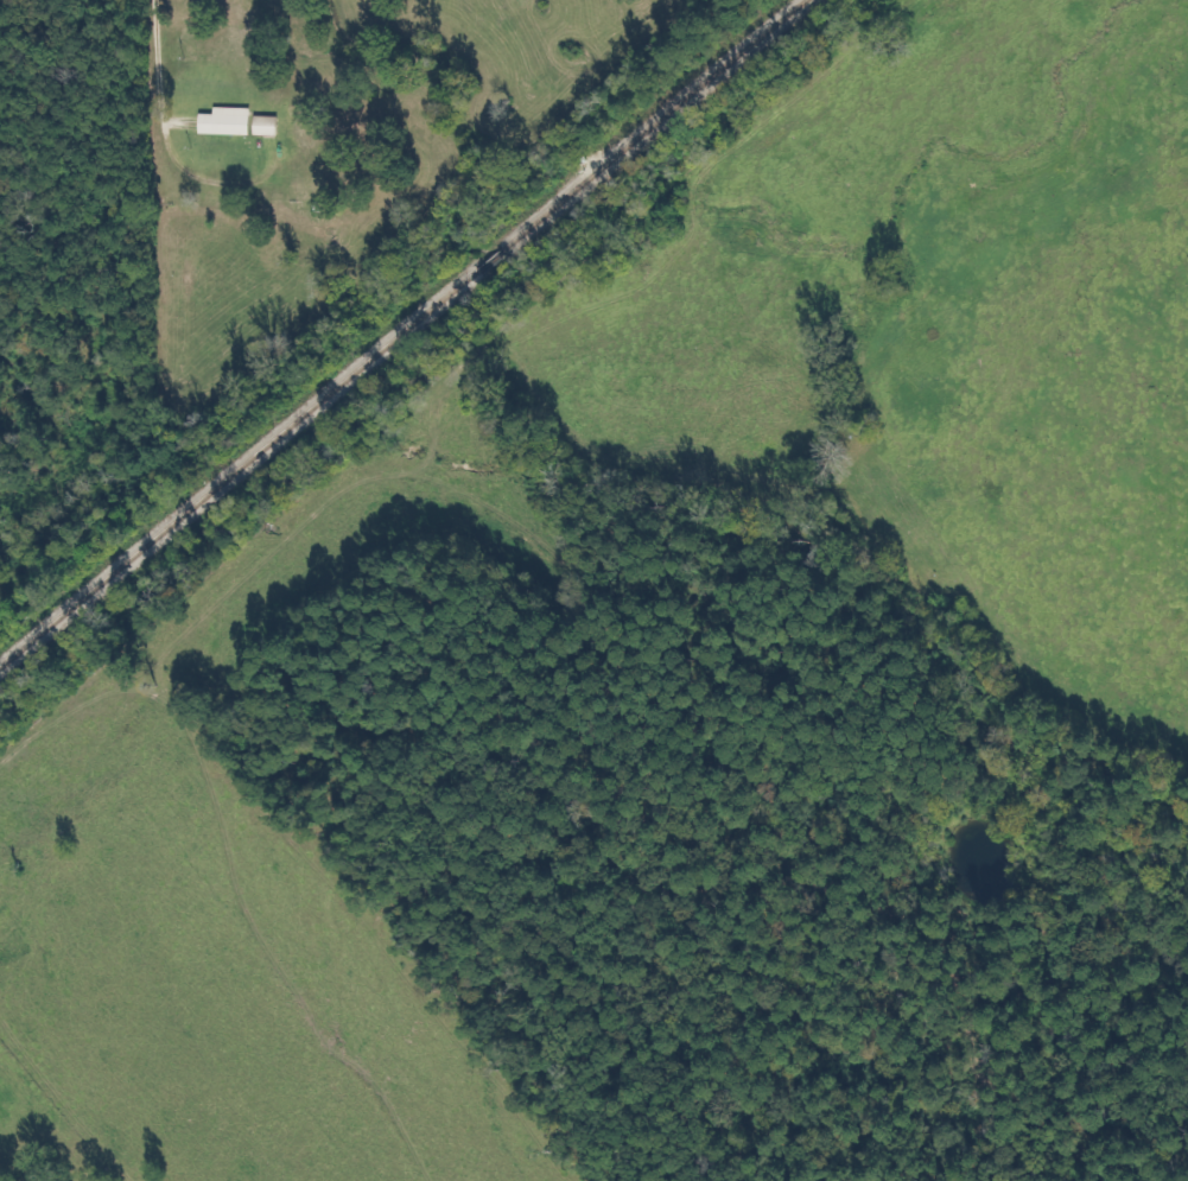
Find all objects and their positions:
building: (223, 121)
building: (265, 125)
railway: (399, 330)

